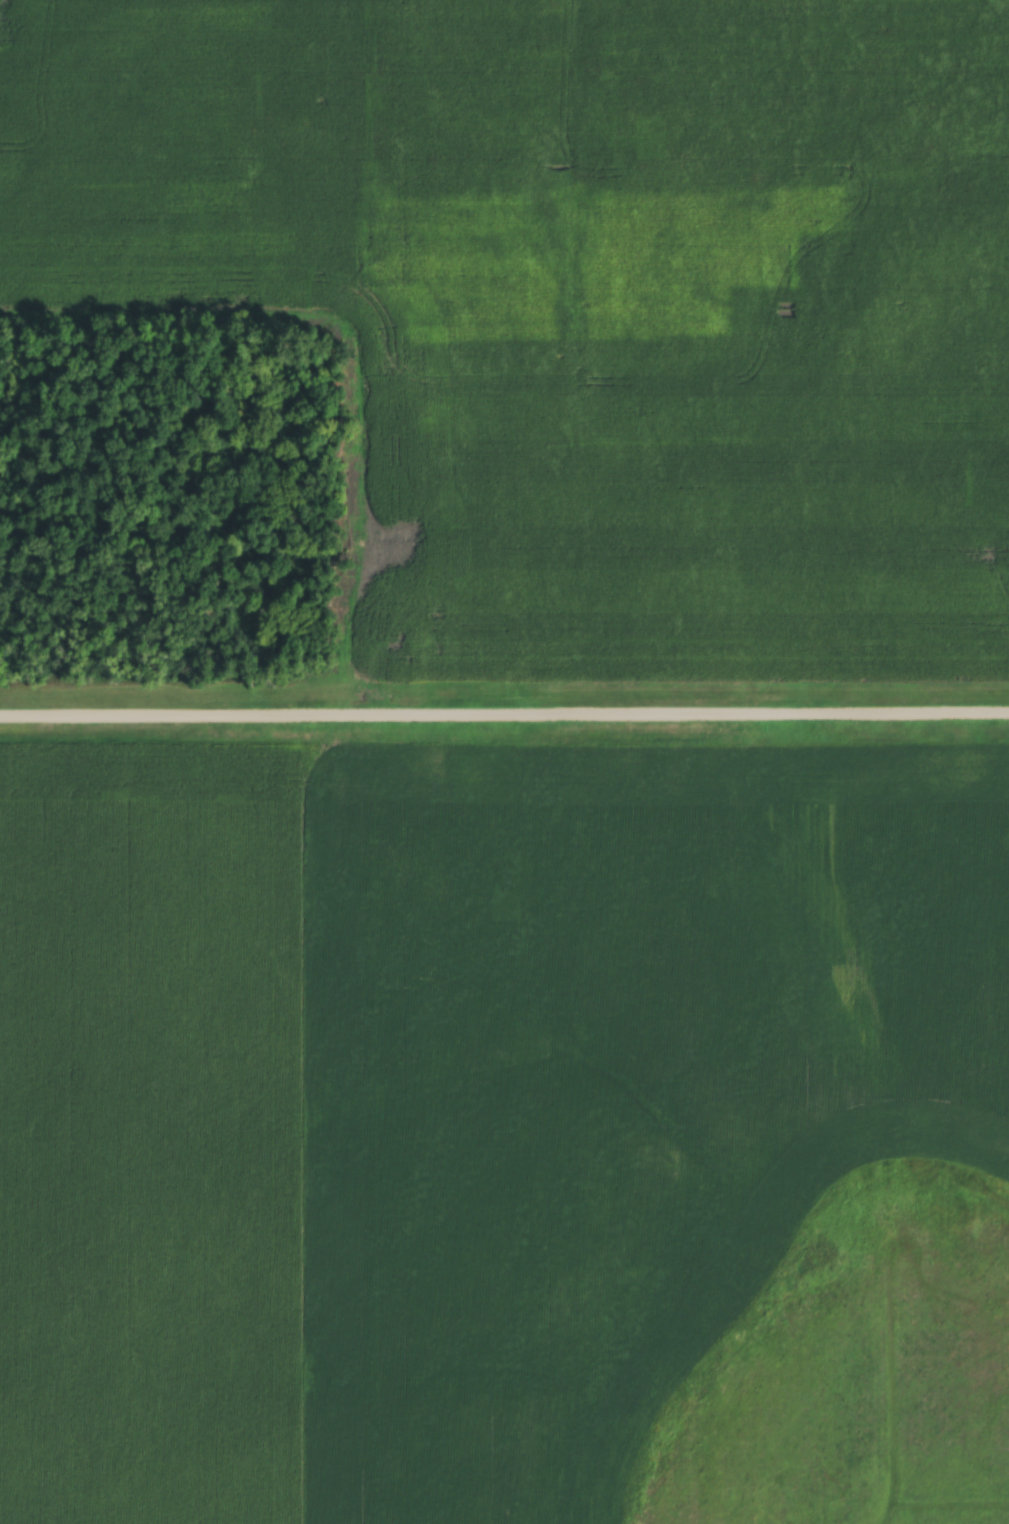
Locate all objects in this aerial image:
road: (504, 712)

